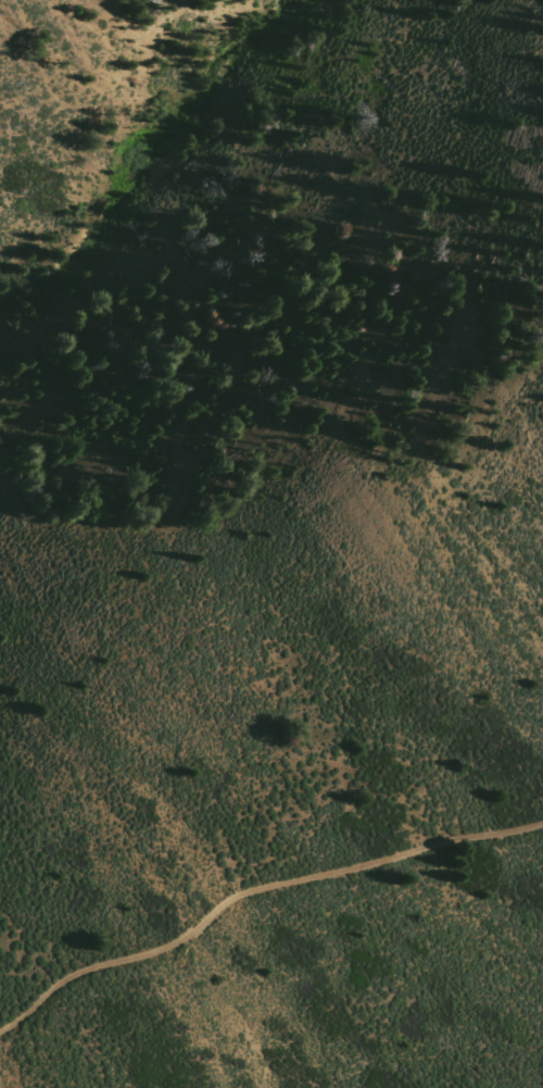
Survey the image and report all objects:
road: (256, 888)

